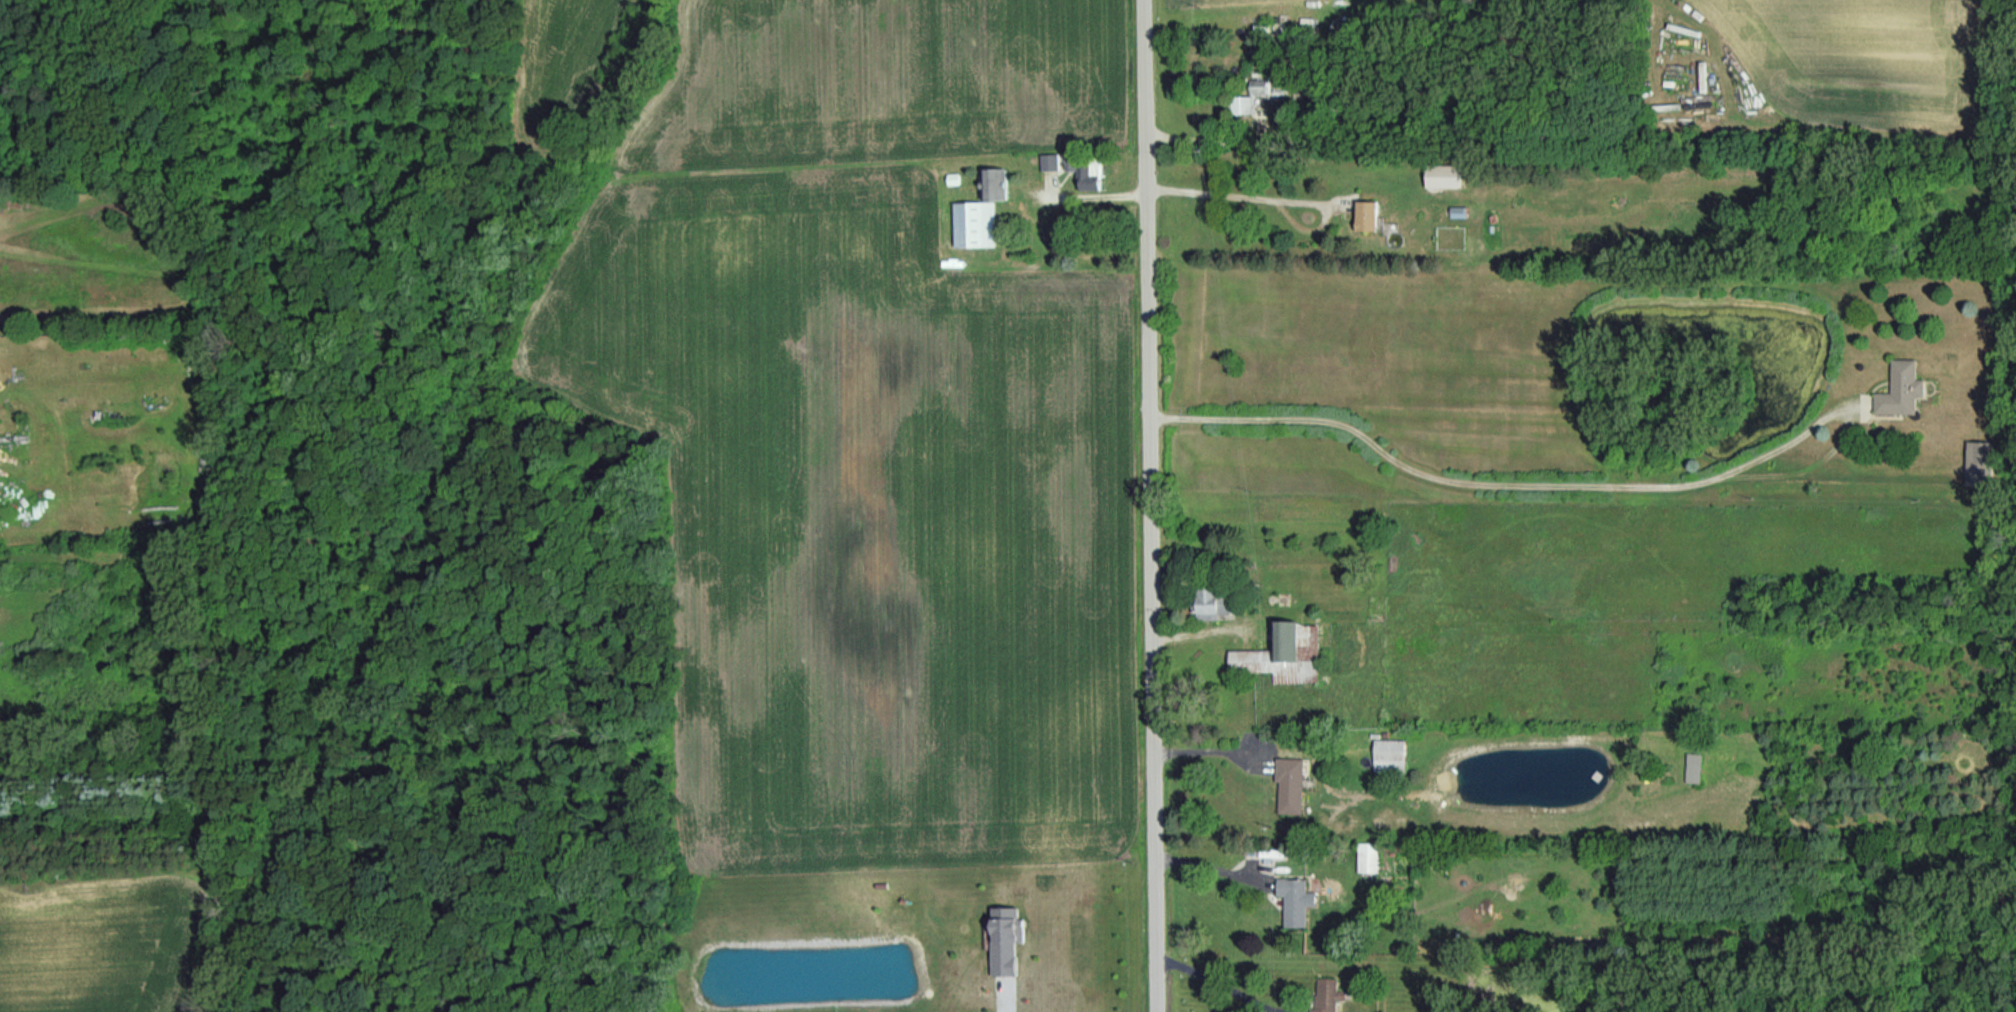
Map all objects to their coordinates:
building: (1258, 87)
building: (1245, 105)
road: (1209, 138)
building: (1048, 162)
building: (1086, 173)
building: (1444, 176)
building: (993, 184)
road: (1236, 191)
building: (1367, 216)
building: (974, 224)
building: (1901, 390)
building: (1977, 464)
road: (1493, 478)
road: (1153, 505)
road: (1209, 748)
building: (1389, 756)
building: (1692, 769)
building: (1289, 786)
building: (1367, 862)
road: (1213, 865)
building: (1295, 901)
building: (1004, 940)
road: (1221, 980)
building: (1327, 995)
road: (1004, 1005)

